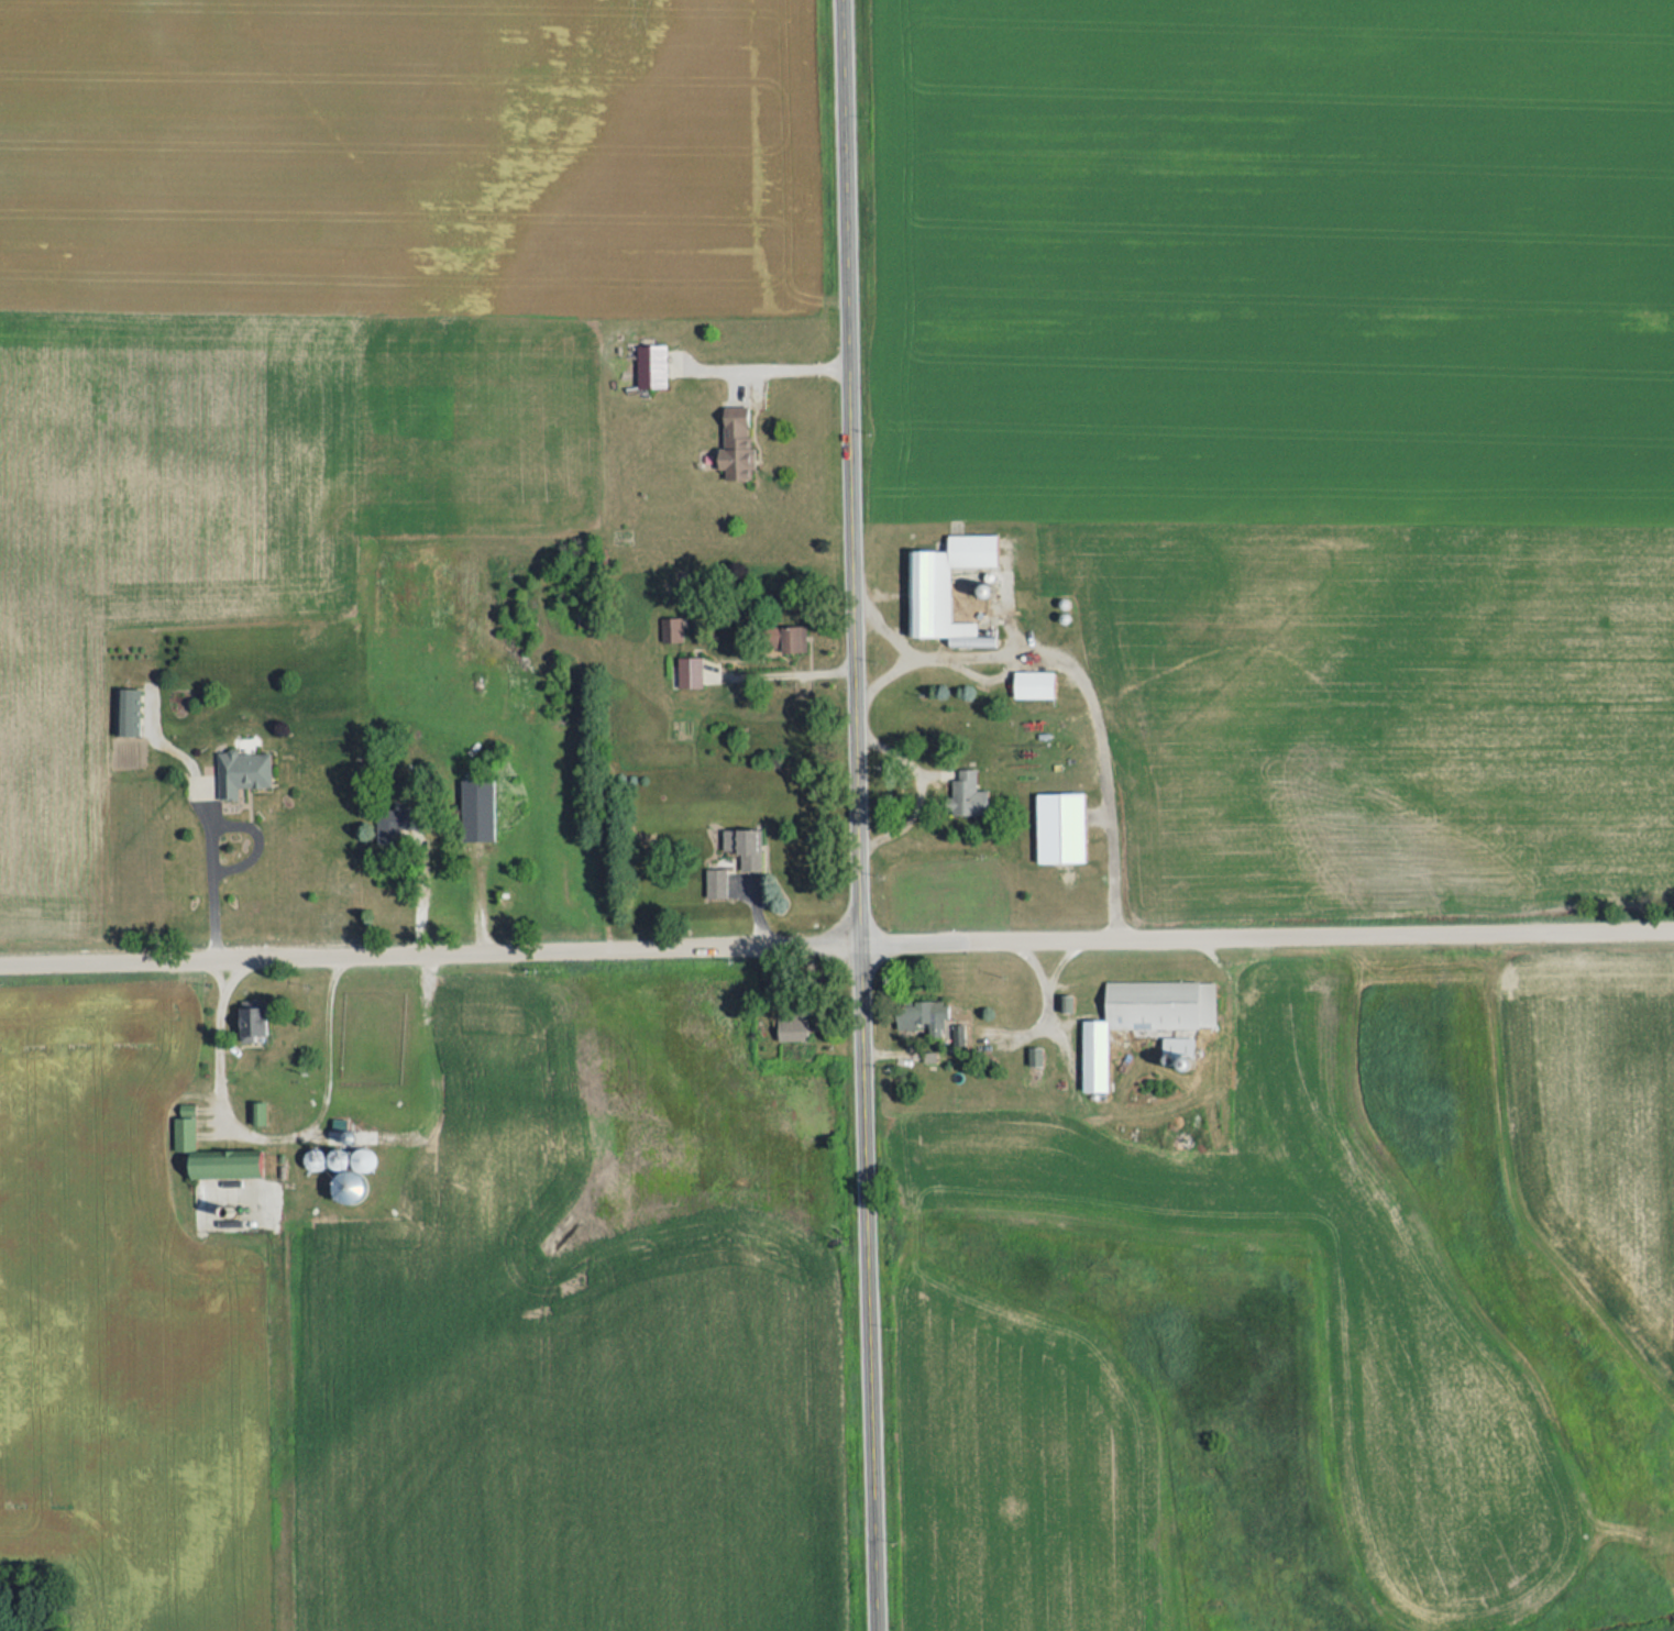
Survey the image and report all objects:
road: (778, 362)
building: (652, 365)
building: (737, 444)
building: (946, 587)
building: (672, 629)
road: (884, 630)
building: (790, 638)
building: (691, 671)
building: (1035, 683)
road: (1083, 685)
building: (128, 712)
building: (243, 771)
building: (967, 794)
building: (478, 809)
road: (858, 815)
building: (398, 820)
building: (1061, 827)
road: (212, 834)
building: (746, 846)
building: (717, 882)
road: (836, 944)
road: (1044, 972)
road: (1066, 987)
building: (925, 1015)
building: (1144, 1017)
building: (254, 1018)
building: (794, 1027)
building: (959, 1033)
building: (1179, 1046)
building: (1036, 1056)
building: (261, 1113)
building: (186, 1134)
road: (275, 1137)
building: (339, 1160)
building: (228, 1164)
building: (354, 1177)

